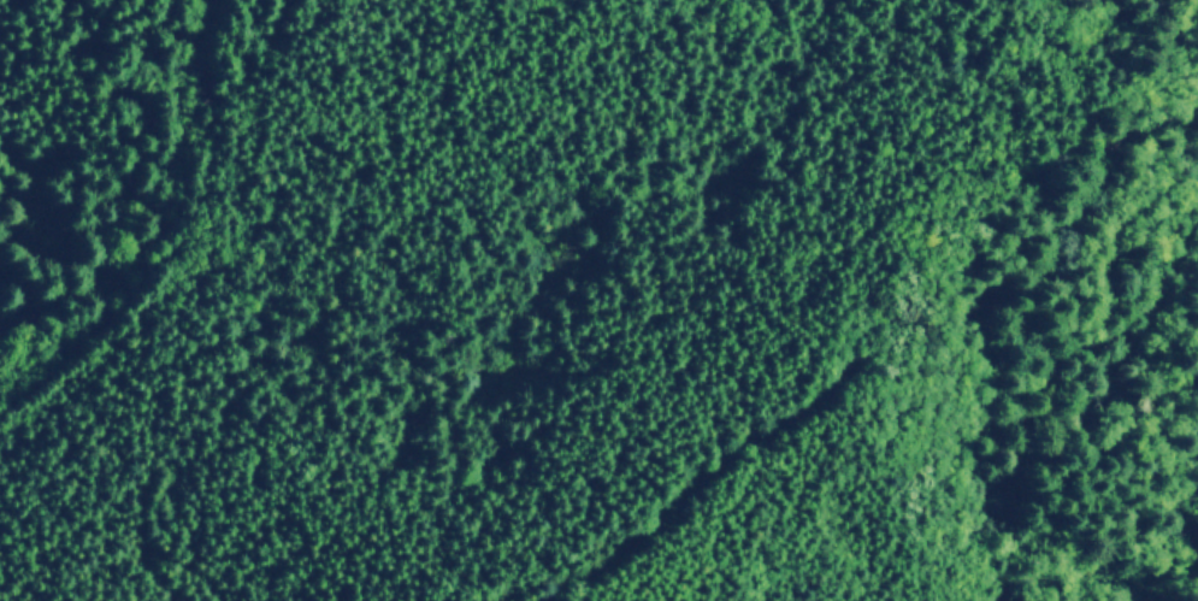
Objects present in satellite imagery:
road: (167, 236)
road: (719, 489)

